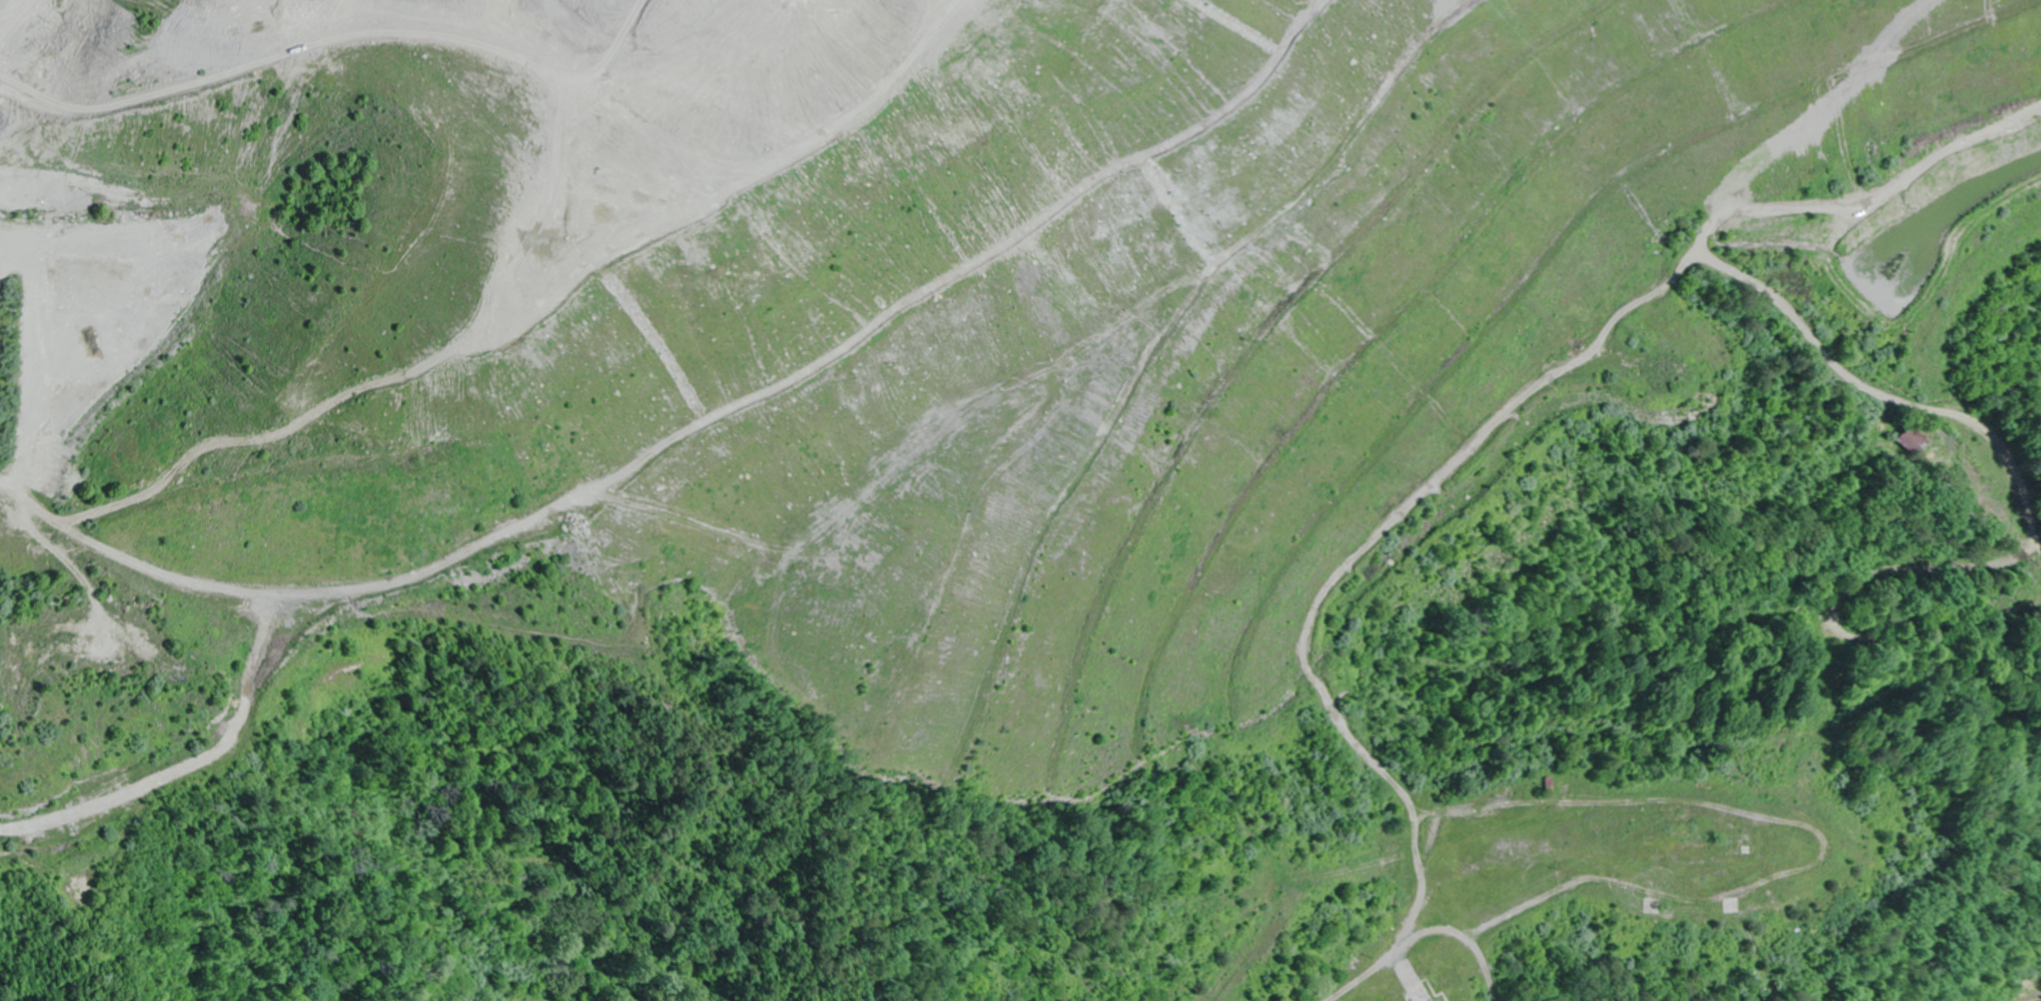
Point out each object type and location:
building: (1916, 440)
building: (1421, 995)
building: (1440, 1000)

